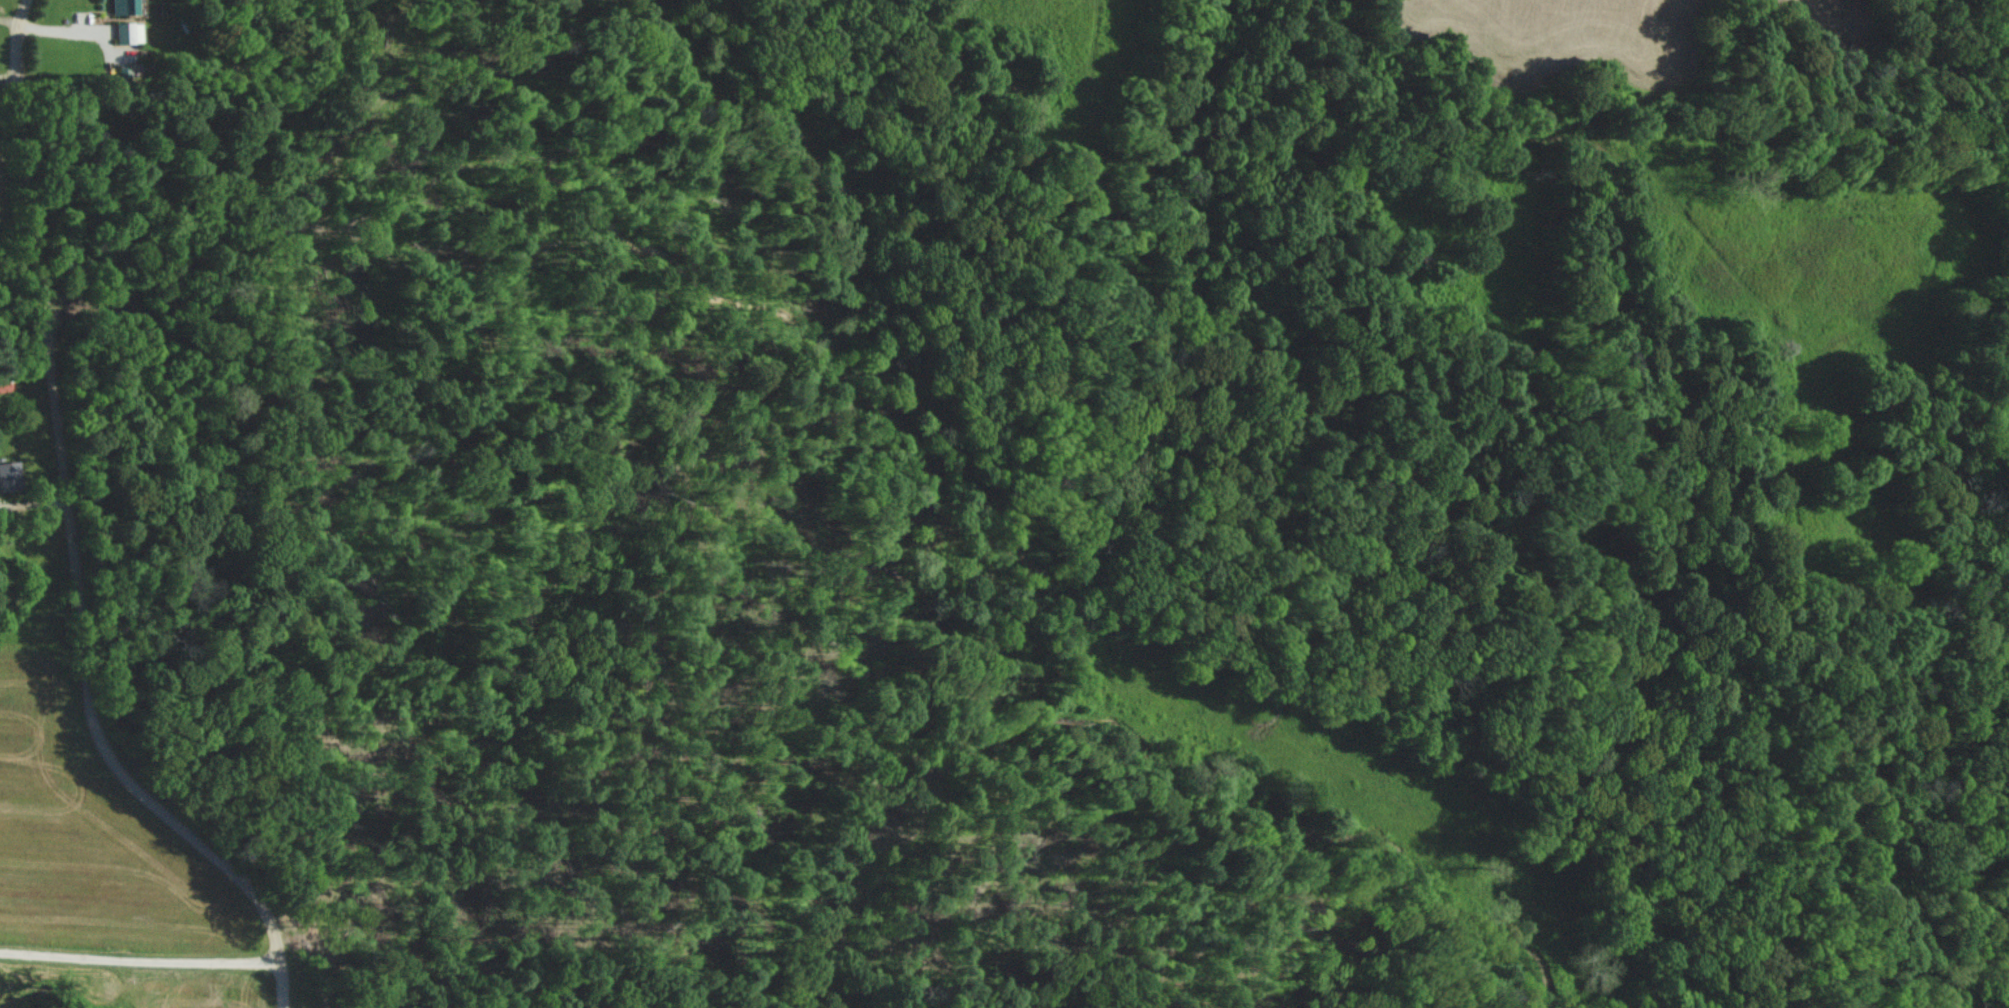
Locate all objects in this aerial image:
building: (123, 32)
road: (2, 77)
building: (10, 389)
building: (9, 471)
road: (59, 540)
road: (136, 958)

